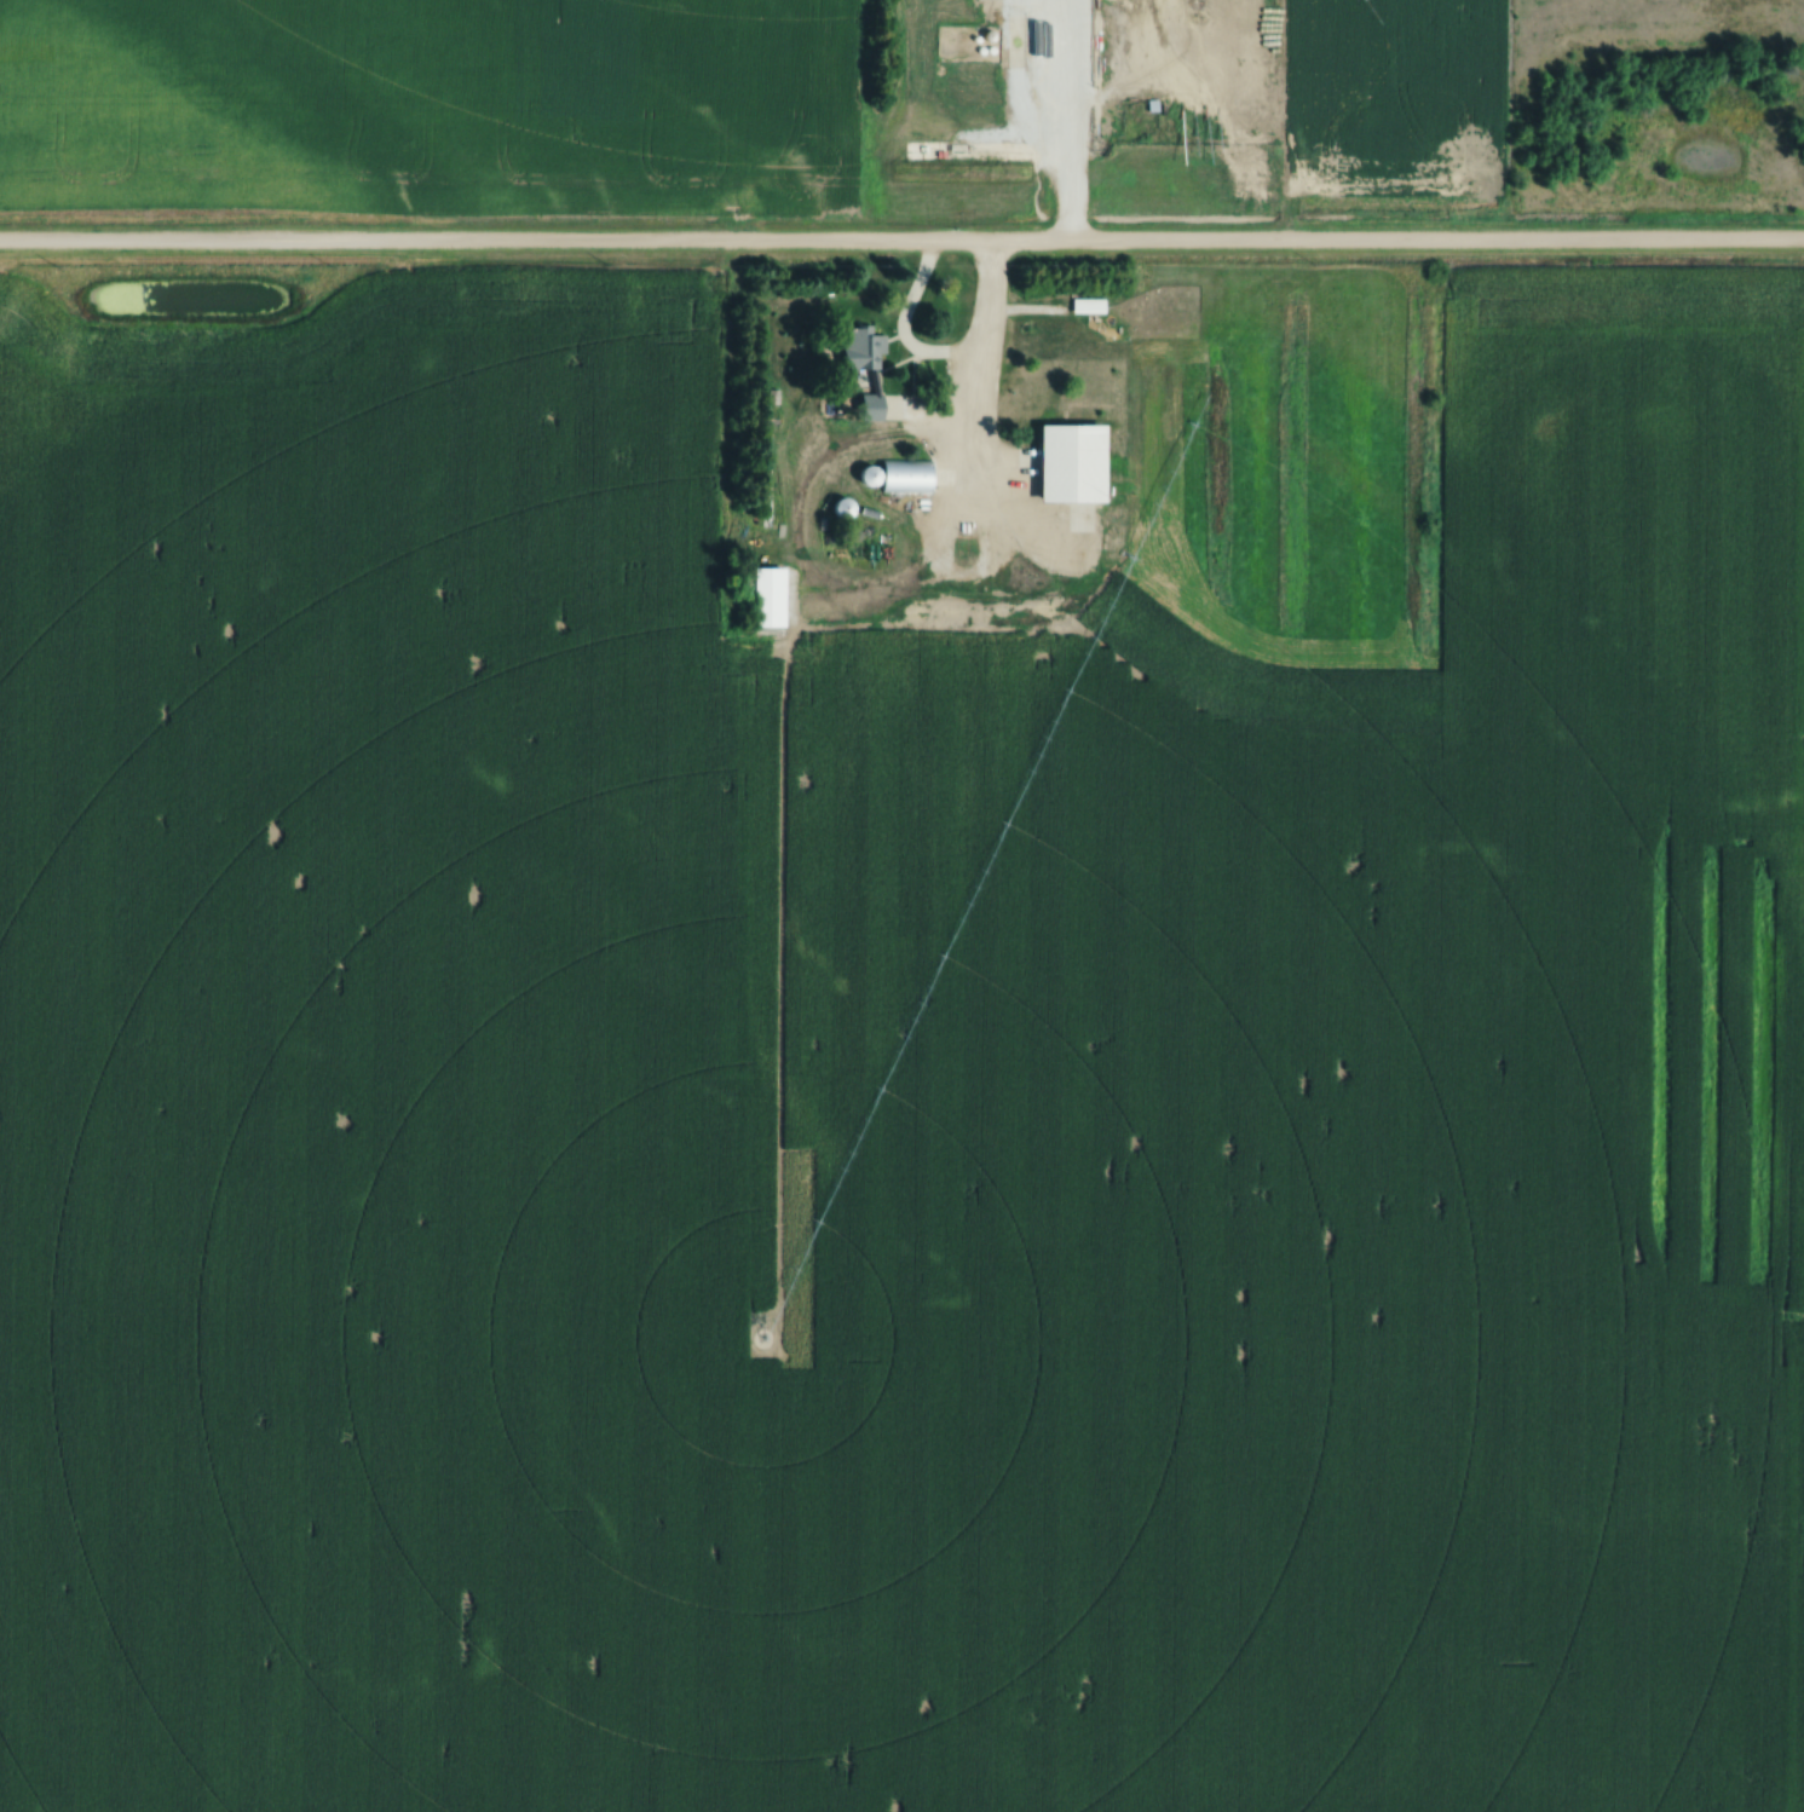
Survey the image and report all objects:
building: (984, 7)
road: (1062, 121)
road: (901, 243)
building: (1085, 306)
road: (939, 358)
building: (863, 374)
building: (1065, 464)
building: (893, 478)
building: (763, 598)

